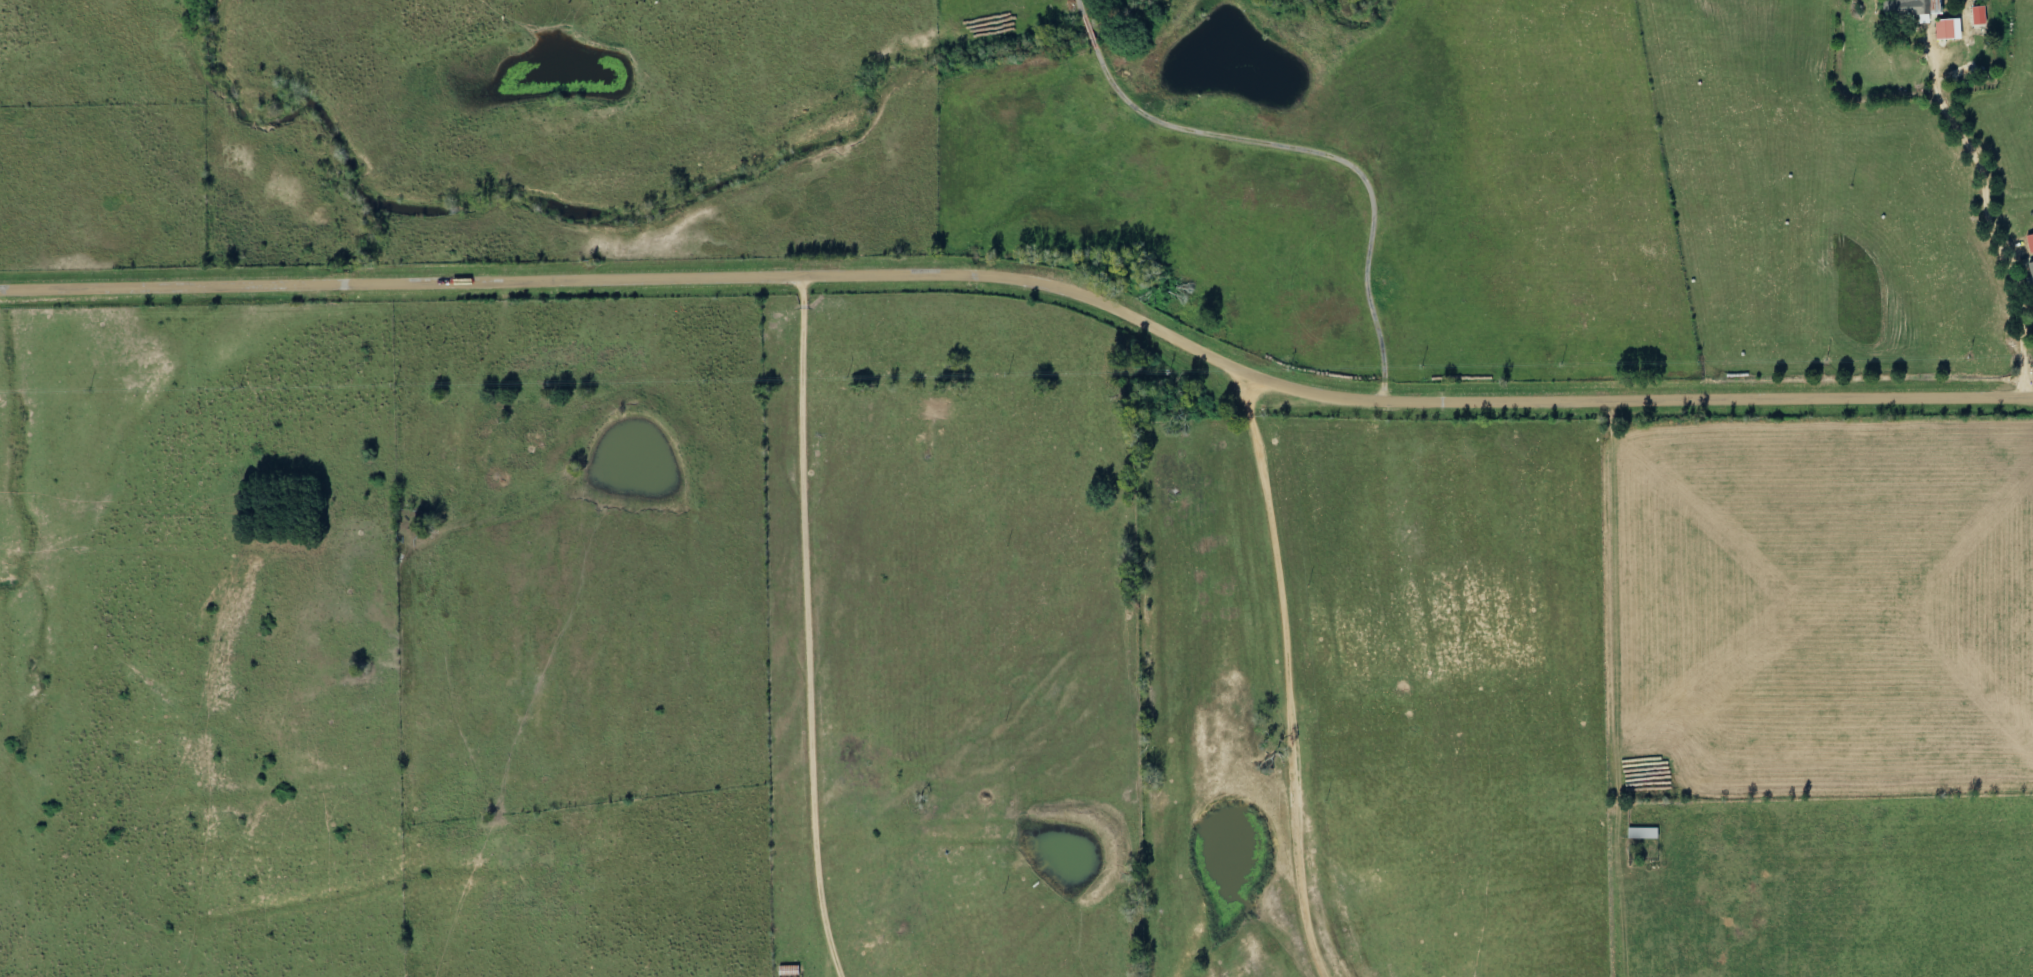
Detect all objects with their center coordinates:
building: (1927, 14)
road: (1984, 213)
road: (1028, 276)
road: (801, 628)
road: (1287, 676)
building: (1645, 834)
building: (790, 972)

